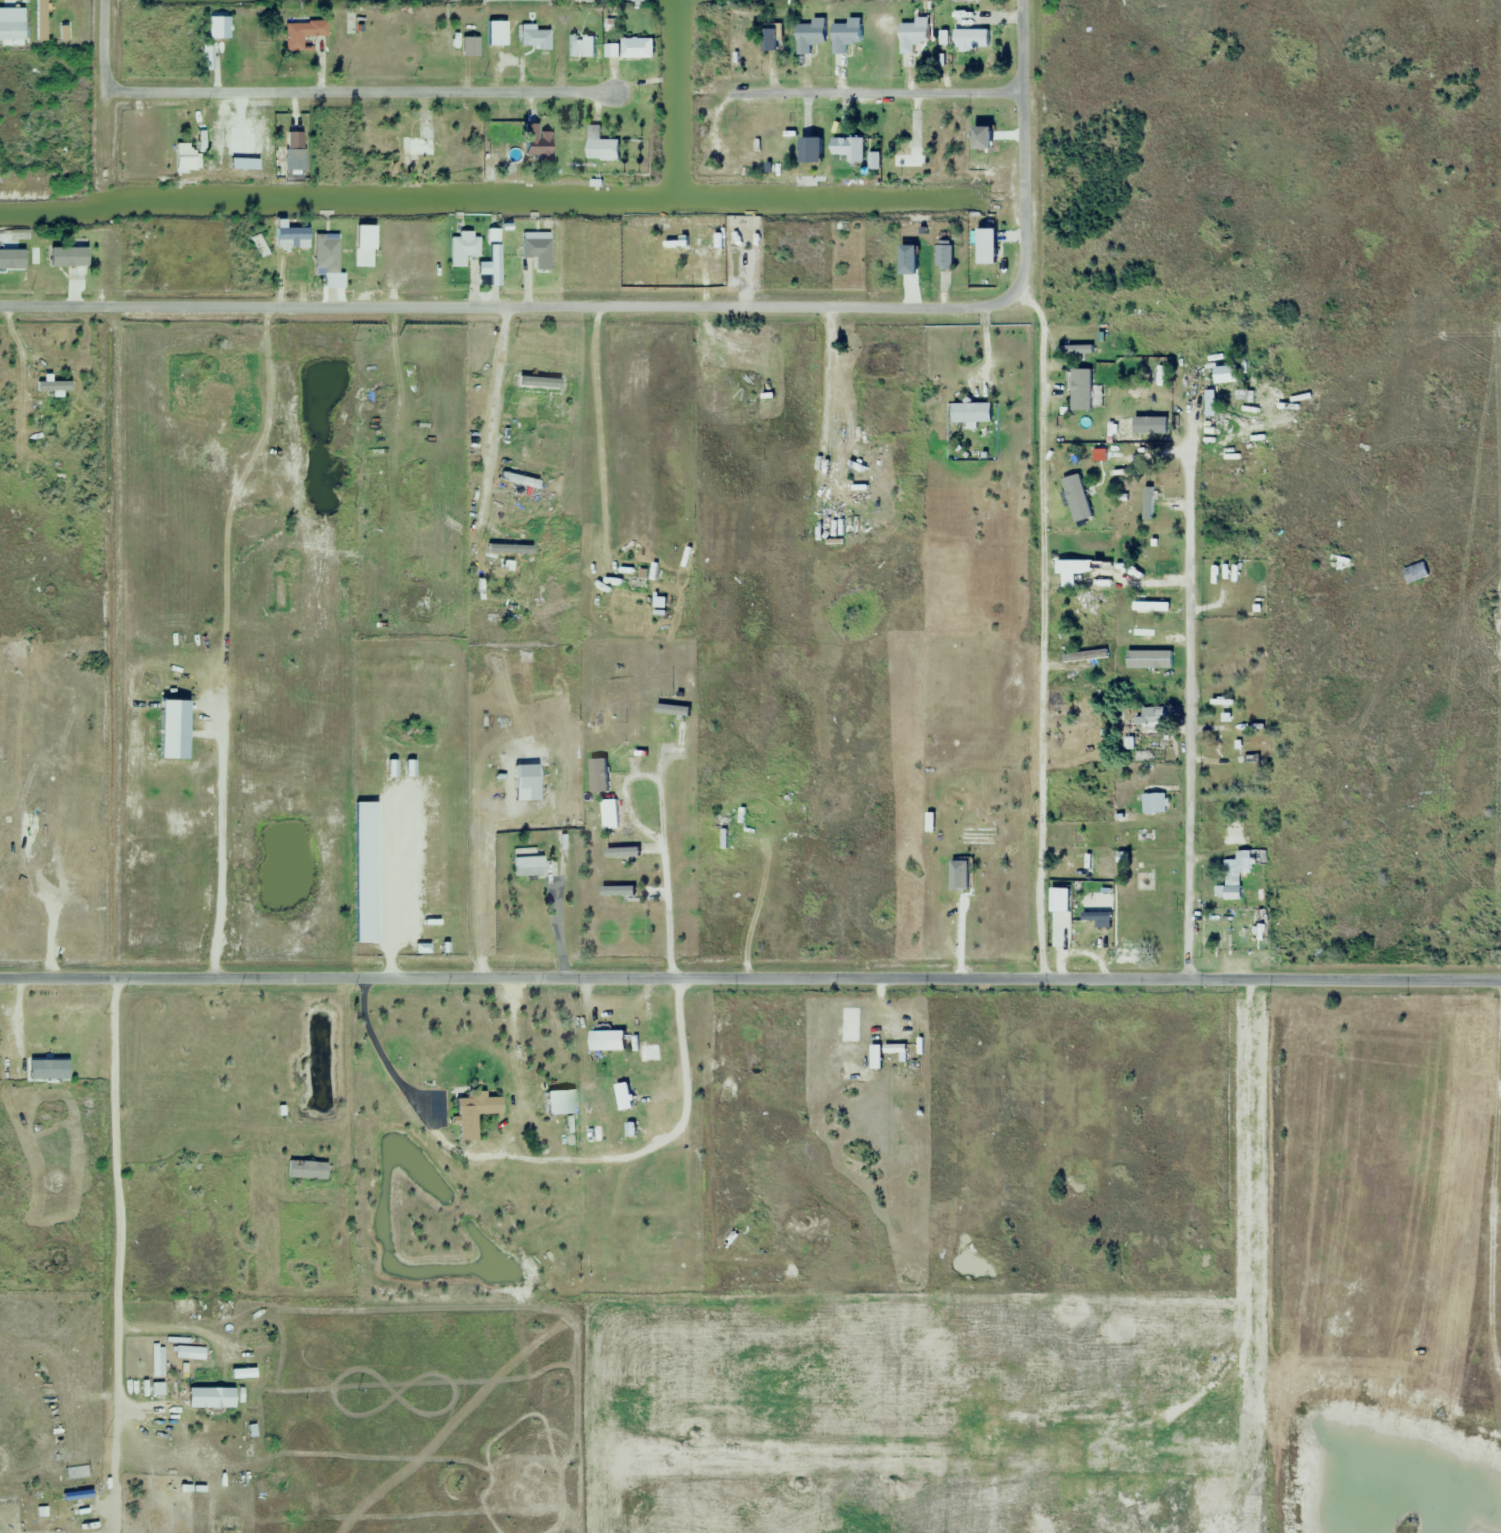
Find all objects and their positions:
building: (40, 20)
building: (217, 28)
building: (968, 30)
building: (64, 32)
building: (301, 33)
building: (845, 35)
building: (912, 35)
building: (808, 36)
building: (768, 41)
road: (103, 43)
building: (442, 46)
building: (580, 46)
building: (636, 49)
building: (611, 51)
road: (356, 92)
road: (879, 97)
building: (417, 144)
building: (535, 144)
building: (600, 146)
building: (704, 149)
building: (808, 149)
building: (846, 150)
road: (1020, 156)
building: (182, 157)
building: (904, 158)
building: (291, 160)
building: (290, 238)
building: (462, 249)
building: (536, 253)
building: (324, 254)
building: (944, 257)
building: (74, 259)
building: (910, 259)
road: (499, 305)
building: (538, 387)
building: (1075, 401)
building: (749, 404)
road: (493, 409)
building: (977, 410)
road: (597, 417)
building: (1101, 457)
building: (56, 458)
building: (61, 473)
building: (1149, 497)
building: (836, 527)
building: (507, 551)
building: (385, 567)
building: (1068, 573)
building: (1139, 581)
building: (634, 583)
building: (539, 597)
building: (659, 603)
building: (1080, 605)
building: (1150, 607)
building: (503, 620)
building: (1140, 633)
road: (1195, 654)
building: (1227, 656)
building: (1102, 663)
building: (1222, 715)
building: (1154, 716)
building: (680, 730)
building: (1227, 747)
building: (1146, 749)
road: (1036, 756)
building: (1157, 775)
building: (524, 784)
building: (1153, 803)
building: (608, 817)
building: (1232, 833)
building: (1144, 835)
building: (976, 837)
building: (724, 839)
building: (526, 863)
building: (1236, 873)
building: (1096, 920)
building: (1255, 936)
building: (1075, 938)
road: (750, 983)
building: (607, 1039)
building: (651, 1053)
building: (44, 1072)
building: (560, 1102)
building: (471, 1113)
road: (540, 1153)
building: (306, 1169)
building: (650, 1243)
building: (596, 1256)

